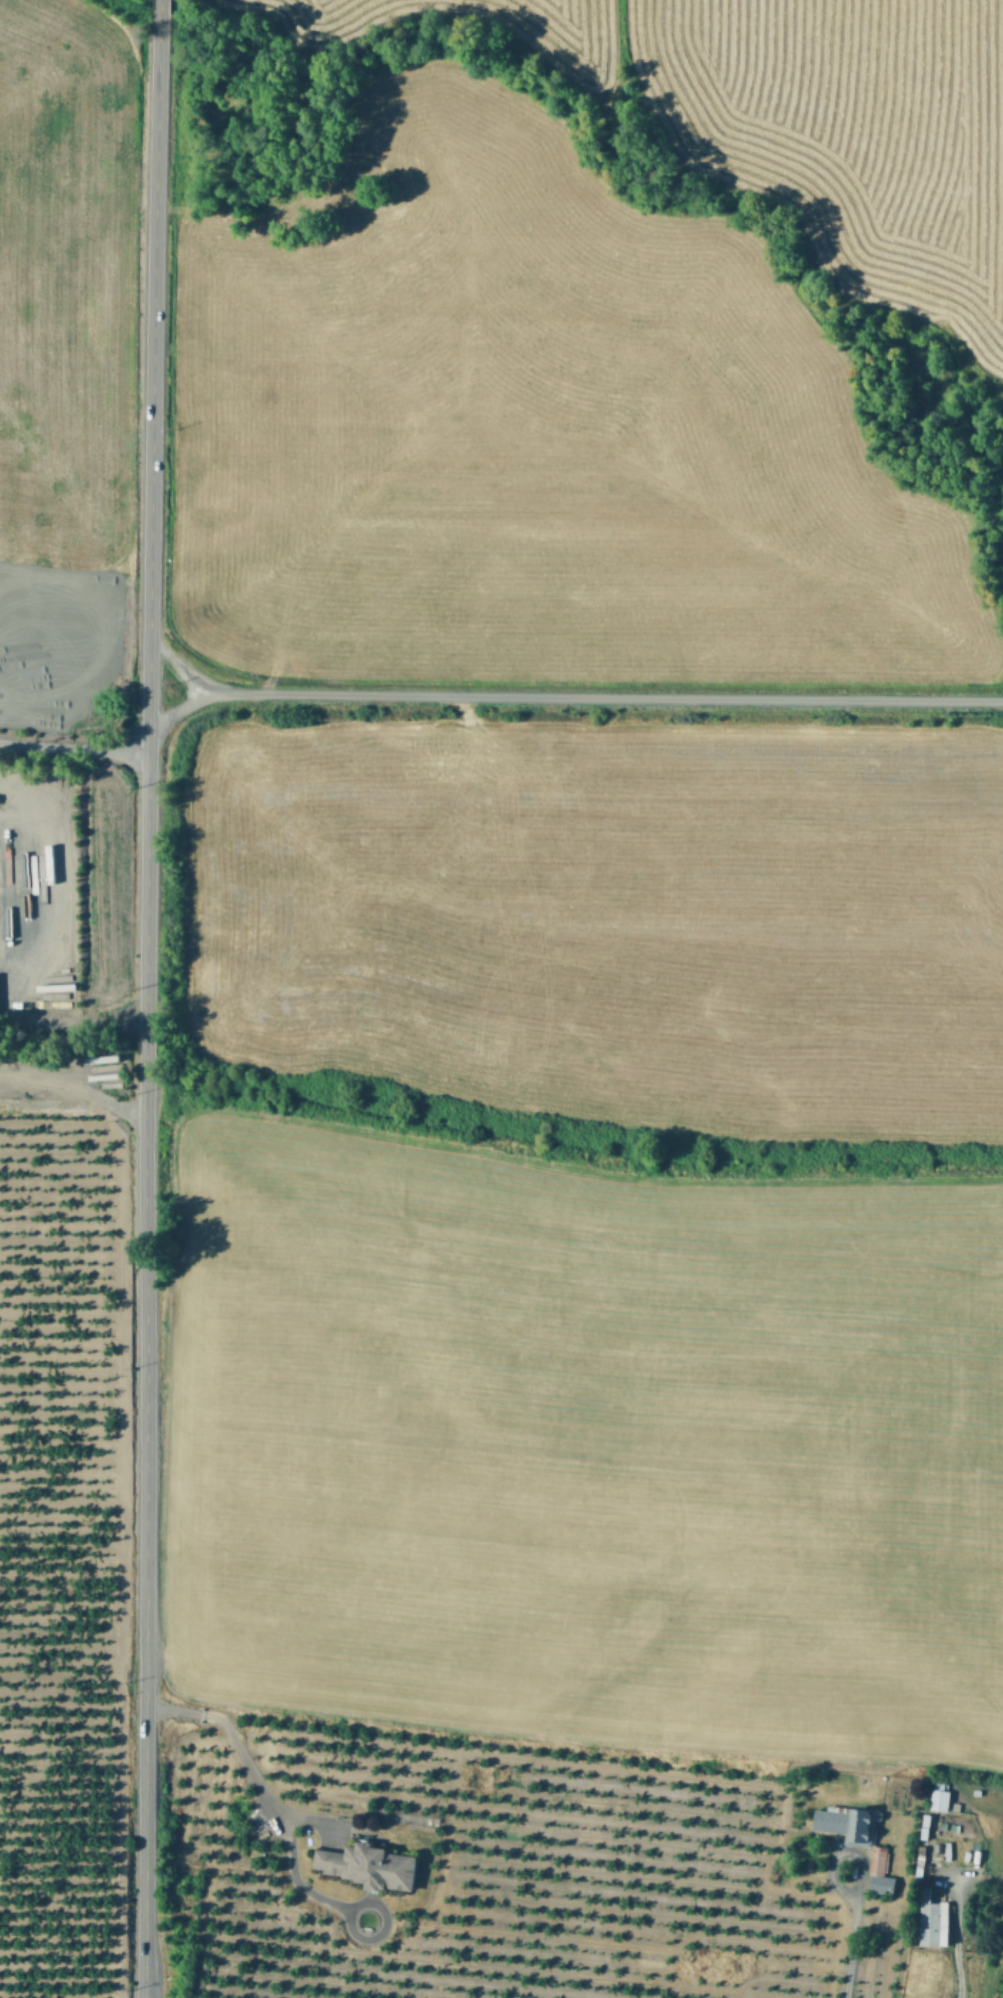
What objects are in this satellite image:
road: (183, 668)
road: (611, 697)
road: (183, 707)
road: (74, 750)
crop: (550, 832)
road: (16, 898)
road: (146, 998)
road: (75, 1089)
road: (230, 1744)
building: (941, 1797)
building: (850, 1822)
building: (372, 1865)
building: (882, 1872)
building: (936, 1922)
road: (849, 1935)
road: (953, 1952)
crop: (995, 1961)

